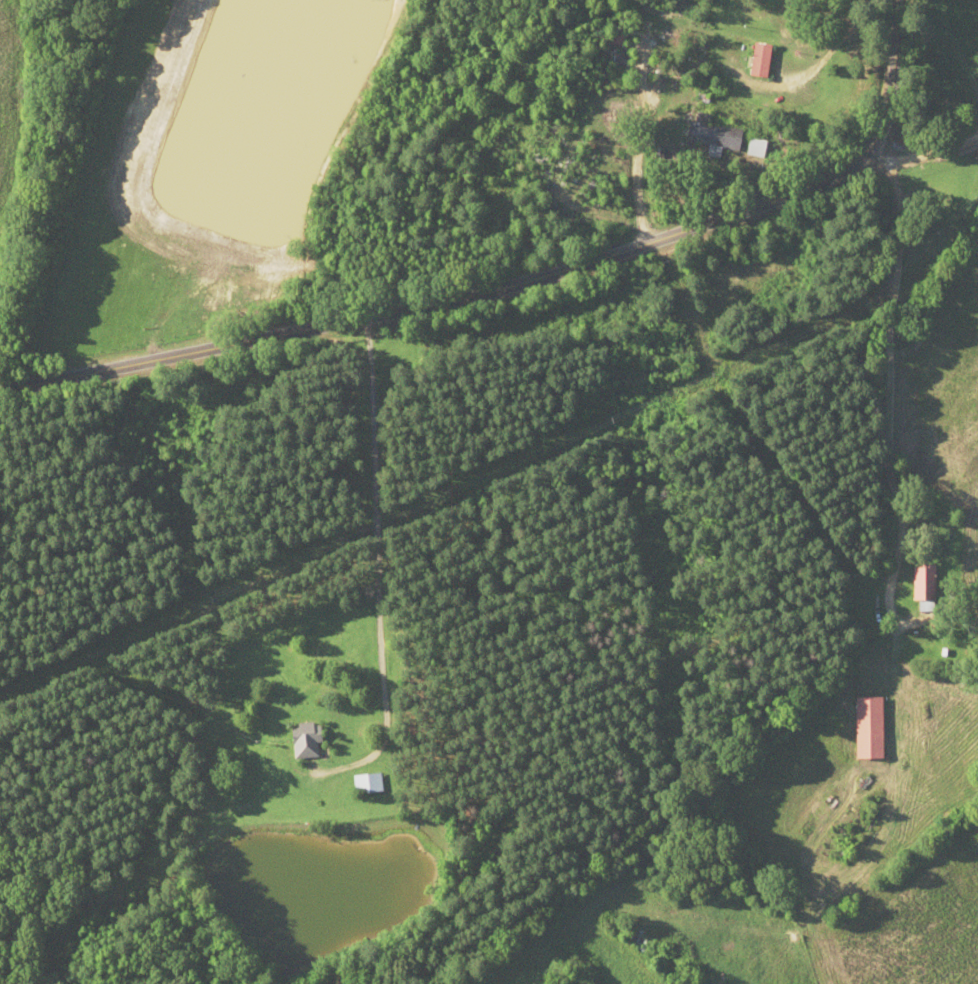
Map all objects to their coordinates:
building: (625, 37)
building: (627, 58)
building: (770, 61)
road: (879, 81)
building: (723, 135)
road: (923, 147)
building: (765, 149)
road: (441, 305)
road: (884, 379)
building: (933, 582)
building: (879, 726)
building: (313, 740)
building: (374, 782)

